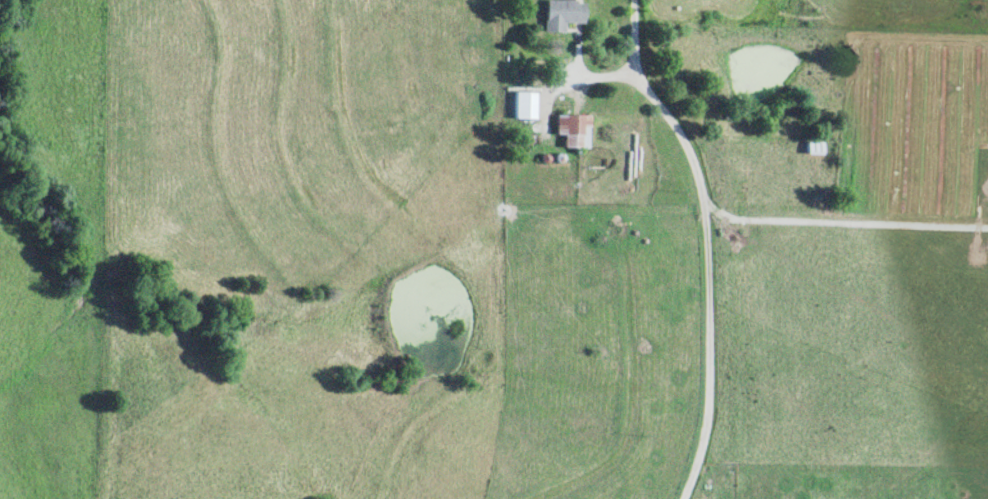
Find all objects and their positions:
building: (558, 15)
building: (520, 106)
building: (570, 132)
road: (704, 242)

